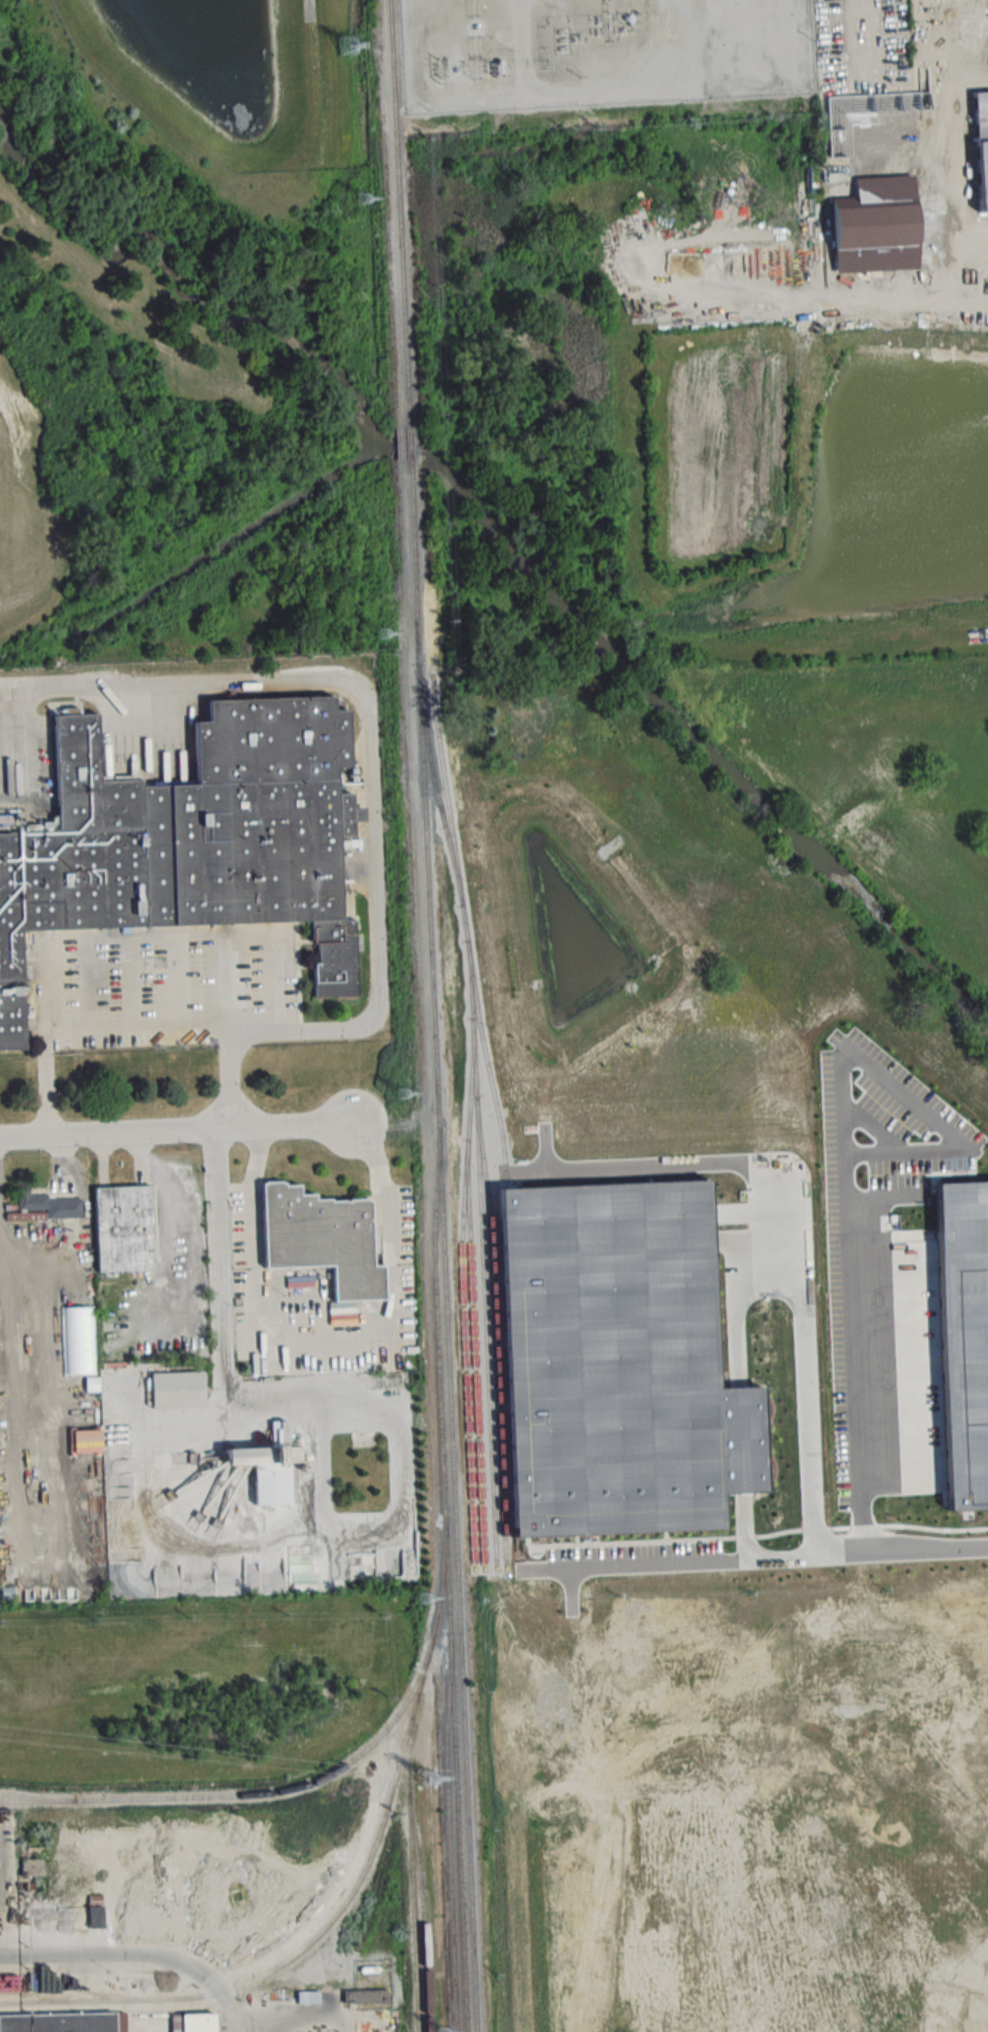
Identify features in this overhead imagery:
power tower: (348, 46)
power substation: (601, 50)
building: (498, 70)
road: (616, 83)
power tower: (363, 198)
railway: (397, 212)
building: (875, 224)
railway: (406, 442)
power tower: (381, 632)
road: (10, 700)
road: (368, 703)
building: (192, 842)
road: (141, 1027)
power tower: (401, 1093)
railway: (474, 1125)
road: (180, 1131)
building: (50, 1206)
building: (124, 1228)
road: (169, 1237)
building: (322, 1238)
railway: (443, 1245)
road: (327, 1334)
building: (77, 1340)
building: (177, 1389)
road: (856, 1390)
road: (342, 1392)
road: (804, 1422)
road: (195, 1423)
building: (268, 1449)
road: (766, 1558)
power tower: (422, 1595)
railway: (438, 1601)
power tower: (427, 1775)
railway: (456, 1788)
railway: (256, 1791)
railway: (29, 1795)
railway: (449, 1845)
railway: (413, 1905)
building: (95, 1917)
road: (139, 1952)
railway: (278, 1965)
building: (308, 1997)
building: (366, 1999)
building: (193, 2022)
building: (8, 2029)
power tower: (440, 2031)

